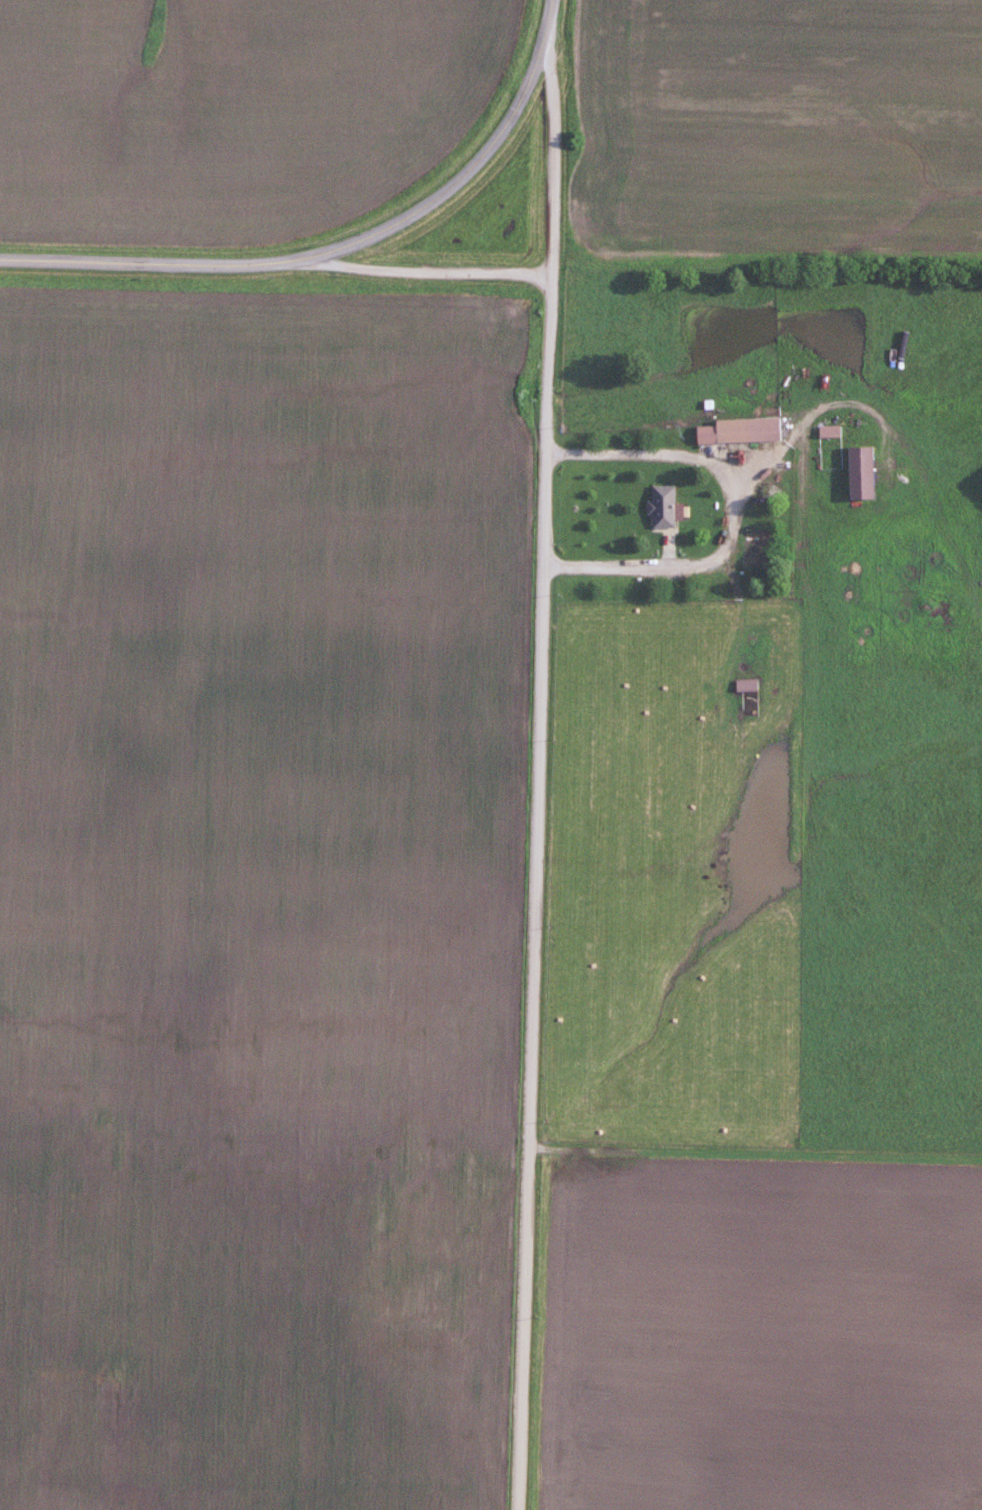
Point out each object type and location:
road: (550, 157)
road: (339, 245)
road: (429, 270)
building: (740, 430)
building: (829, 431)
building: (662, 505)
road: (728, 510)
building: (745, 684)
road: (536, 892)

